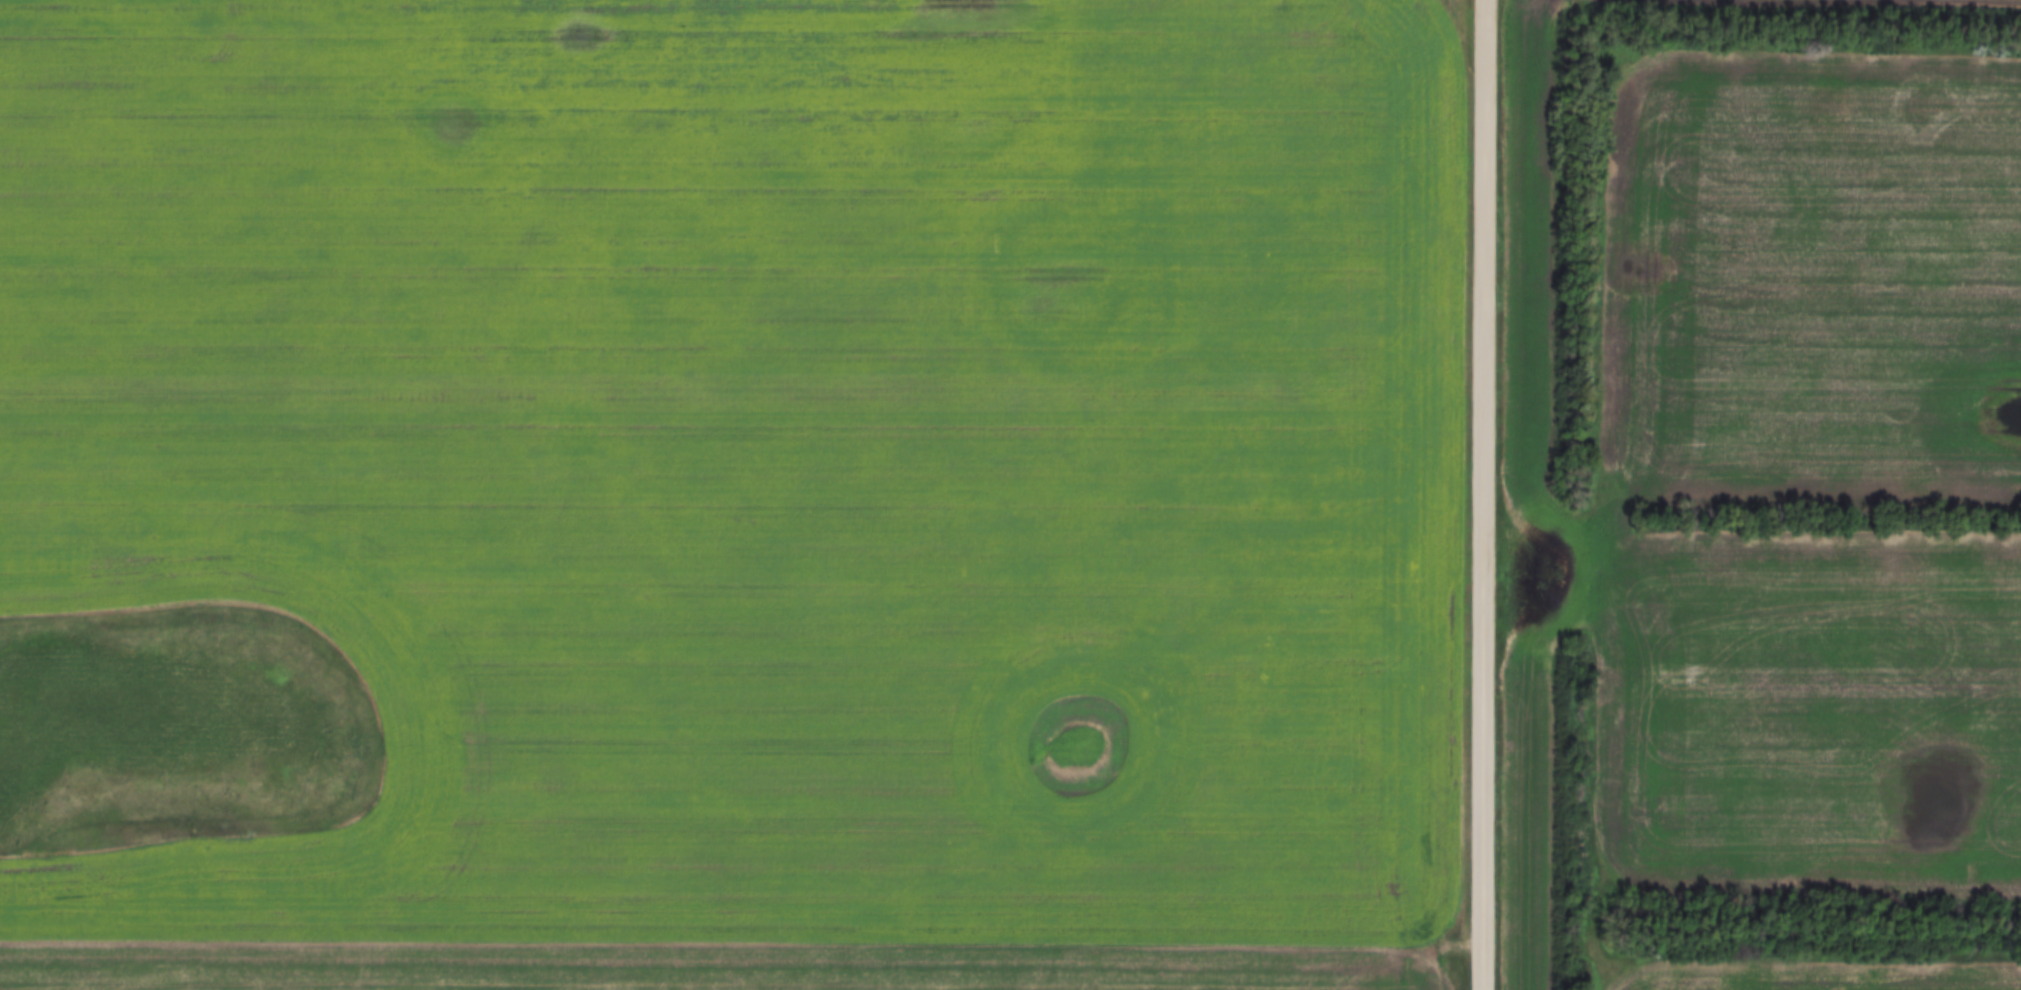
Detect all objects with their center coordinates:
road: (1488, 495)

